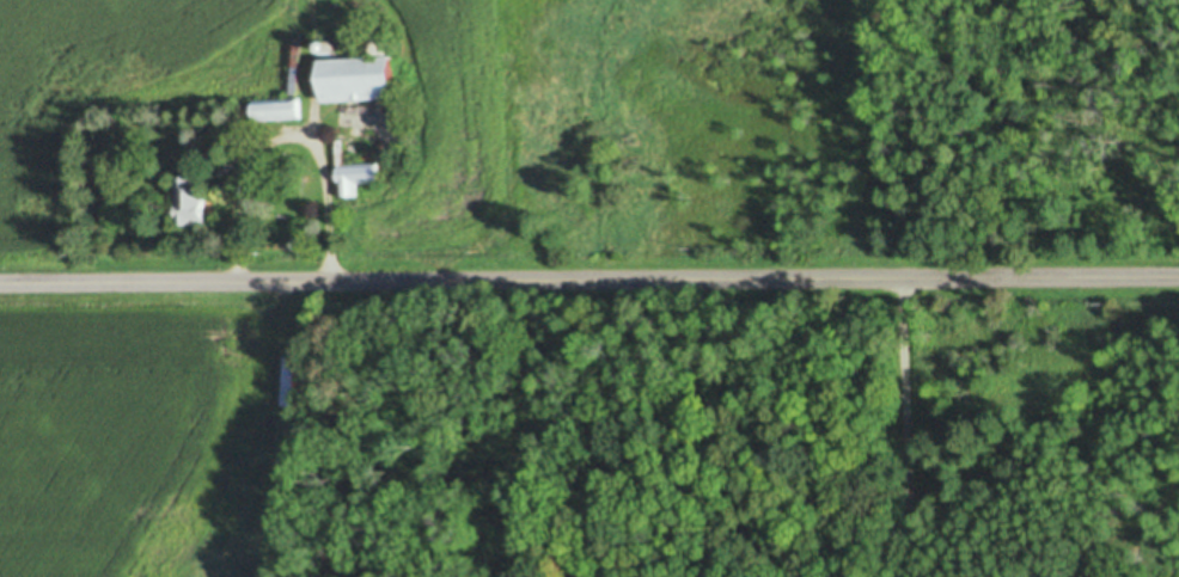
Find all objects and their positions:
building: (385, 44)
building: (329, 45)
building: (360, 75)
building: (277, 109)
road: (322, 159)
building: (355, 172)
road: (236, 178)
building: (191, 198)
road: (588, 277)
building: (297, 380)
road: (903, 426)

